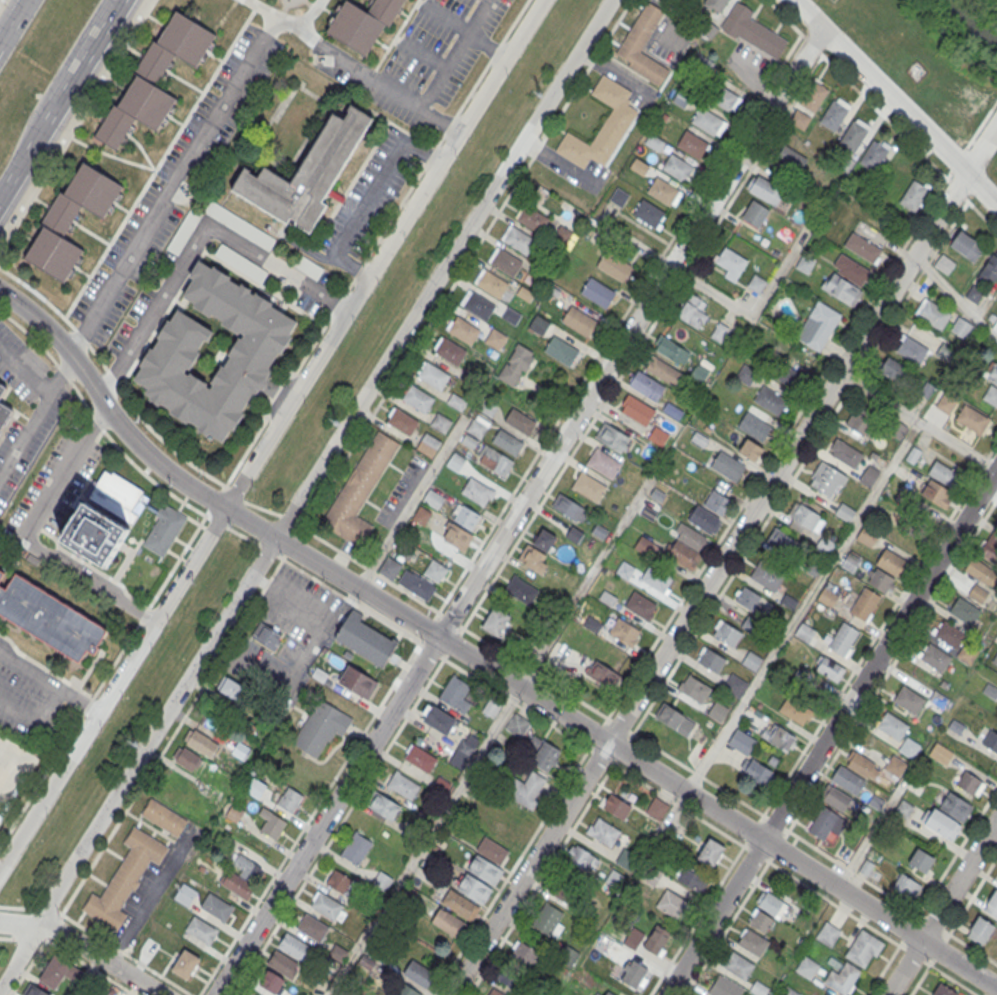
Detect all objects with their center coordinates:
building: (715, 5)
road: (784, 16)
road: (12, 19)
road: (445, 20)
river: (971, 22)
building: (363, 23)
building: (753, 31)
road: (487, 45)
building: (642, 45)
road: (817, 51)
road: (425, 54)
road: (342, 60)
parking lot: (419, 61)
road: (58, 75)
road: (442, 75)
building: (155, 78)
road: (74, 79)
parking lot: (628, 83)
power tower: (538, 94)
building: (721, 96)
building: (813, 97)
road: (895, 102)
building: (833, 116)
building: (708, 121)
road: (75, 124)
road: (981, 124)
building: (602, 125)
road: (895, 128)
building: (853, 137)
building: (654, 143)
building: (692, 143)
road: (960, 154)
building: (873, 156)
building: (789, 159)
building: (676, 166)
building: (638, 167)
parking lot: (575, 169)
building: (306, 173)
road: (13, 180)
parking lot: (174, 183)
building: (764, 189)
building: (662, 190)
road: (167, 196)
building: (914, 196)
building: (619, 197)
road: (367, 200)
building: (649, 213)
building: (755, 214)
building: (532, 218)
building: (70, 219)
building: (519, 240)
road: (196, 243)
building: (967, 246)
building: (863, 247)
building: (505, 262)
building: (731, 262)
building: (944, 264)
building: (613, 265)
building: (804, 265)
building: (852, 270)
building: (989, 272)
building: (756, 283)
building: (492, 284)
building: (841, 290)
building: (598, 292)
building: (974, 294)
road: (956, 296)
road: (760, 304)
building: (478, 305)
building: (691, 312)
building: (932, 315)
building: (511, 317)
road: (66, 320)
building: (579, 320)
building: (818, 325)
building: (539, 326)
building: (961, 328)
building: (463, 330)
building: (719, 333)
building: (495, 340)
building: (449, 350)
building: (561, 350)
building: (911, 350)
building: (671, 352)
building: (945, 352)
building: (170, 357)
building: (516, 365)
building: (894, 370)
building: (663, 372)
building: (788, 374)
building: (992, 374)
building: (433, 375)
building: (700, 375)
building: (746, 375)
building: (470, 378)
road: (122, 381)
building: (646, 385)
building: (2, 388)
building: (922, 388)
building: (991, 394)
building: (417, 398)
building: (770, 400)
building: (456, 402)
building: (946, 403)
building: (487, 409)
building: (637, 409)
parking lot: (48, 410)
building: (4, 413)
road: (35, 418)
road: (96, 420)
building: (401, 420)
building: (860, 421)
road: (918, 421)
building: (972, 421)
power tower: (334, 423)
building: (440, 423)
building: (519, 423)
building: (754, 426)
building: (476, 429)
road: (270, 434)
building: (658, 436)
building: (612, 439)
building: (507, 443)
building: (428, 445)
road: (776, 448)
building: (750, 449)
road: (811, 449)
building: (845, 452)
building: (912, 455)
building: (456, 462)
building: (494, 462)
building: (604, 463)
building: (728, 466)
building: (942, 474)
building: (869, 475)
building: (826, 478)
building: (589, 486)
building: (359, 490)
road: (303, 492)
building: (477, 492)
building: (935, 494)
building: (118, 497)
building: (905, 497)
building: (433, 500)
road: (412, 502)
building: (717, 502)
road: (262, 508)
building: (569, 508)
road: (518, 511)
building: (845, 512)
building: (467, 518)
building: (805, 518)
building: (704, 519)
road: (228, 528)
building: (913, 529)
building: (164, 531)
building: (601, 534)
road: (27, 535)
building: (94, 536)
building: (574, 536)
building: (457, 537)
building: (867, 537)
building: (544, 542)
building: (781, 544)
building: (644, 545)
building: (685, 547)
building: (989, 547)
building: (404, 550)
building: (533, 559)
road: (722, 560)
building: (891, 562)
building: (851, 564)
building: (389, 568)
building: (625, 570)
building: (435, 572)
building: (1, 573)
building: (767, 576)
building: (657, 579)
building: (880, 580)
building: (417, 585)
building: (521, 591)
building: (978, 594)
building: (826, 595)
building: (748, 598)
road: (350, 600)
road: (807, 600)
building: (864, 601)
building: (639, 603)
building: (964, 610)
building: (49, 618)
building: (495, 622)
road: (879, 628)
building: (804, 630)
building: (624, 632)
building: (726, 633)
building: (949, 635)
building: (266, 636)
building: (842, 636)
building: (365, 640)
road: (223, 652)
building: (933, 655)
building: (967, 655)
building: (710, 658)
building: (751, 659)
road: (478, 660)
building: (829, 670)
building: (600, 675)
road: (48, 681)
building: (358, 682)
building: (734, 683)
building: (693, 687)
building: (990, 689)
building: (233, 690)
building: (454, 692)
building: (908, 697)
building: (938, 700)
parking lot: (35, 703)
building: (716, 709)
building: (796, 711)
building: (438, 719)
building: (675, 719)
road: (34, 721)
building: (892, 724)
building: (955, 724)
building: (320, 725)
building: (517, 725)
road: (831, 731)
building: (779, 738)
power tower: (133, 739)
building: (741, 739)
building: (990, 740)
building: (200, 743)
building: (908, 745)
building: (467, 746)
building: (940, 752)
building: (545, 756)
building: (420, 758)
building: (186, 759)
building: (862, 763)
building: (894, 764)
building: (758, 774)
building: (848, 780)
building: (970, 783)
building: (402, 785)
building: (528, 790)
building: (287, 794)
building: (838, 799)
building: (614, 804)
building: (955, 804)
road: (747, 805)
building: (383, 806)
building: (656, 807)
building: (903, 807)
building: (233, 814)
building: (163, 818)
road: (307, 819)
building: (940, 821)
building: (272, 825)
building: (825, 825)
road: (337, 826)
building: (602, 830)
building: (506, 835)
road: (425, 842)
building: (356, 848)
building: (491, 849)
building: (710, 852)
road: (756, 853)
building: (582, 859)
building: (625, 859)
building: (921, 862)
road: (947, 865)
building: (865, 868)
building: (485, 869)
road: (509, 871)
building: (124, 876)
building: (241, 876)
building: (651, 876)
road: (540, 879)
building: (692, 879)
building: (338, 881)
building: (474, 887)
building: (906, 888)
building: (563, 889)
building: (184, 893)
road: (973, 894)
building: (992, 902)
building: (327, 904)
building: (461, 904)
building: (672, 904)
building: (771, 904)
building: (215, 905)
road: (942, 907)
building: (759, 919)
building: (547, 920)
road: (696, 920)
building: (448, 921)
building: (311, 925)
building: (200, 928)
road: (725, 928)
building: (980, 928)
building: (828, 934)
building: (656, 941)
building: (752, 941)
building: (292, 944)
road: (85, 947)
building: (863, 948)
road: (973, 948)
building: (281, 962)
building: (738, 963)
building: (185, 964)
building: (807, 966)
building: (518, 967)
building: (55, 973)
building: (418, 974)
building: (632, 974)
building: (842, 977)
road: (919, 980)
road: (953, 980)
building: (270, 983)
building: (724, 986)
building: (403, 990)
building: (34, 991)
building: (942, 991)
building: (495, 992)
building: (605, 992)
building: (793, 993)
building: (291, 994)
building: (826, 994)

